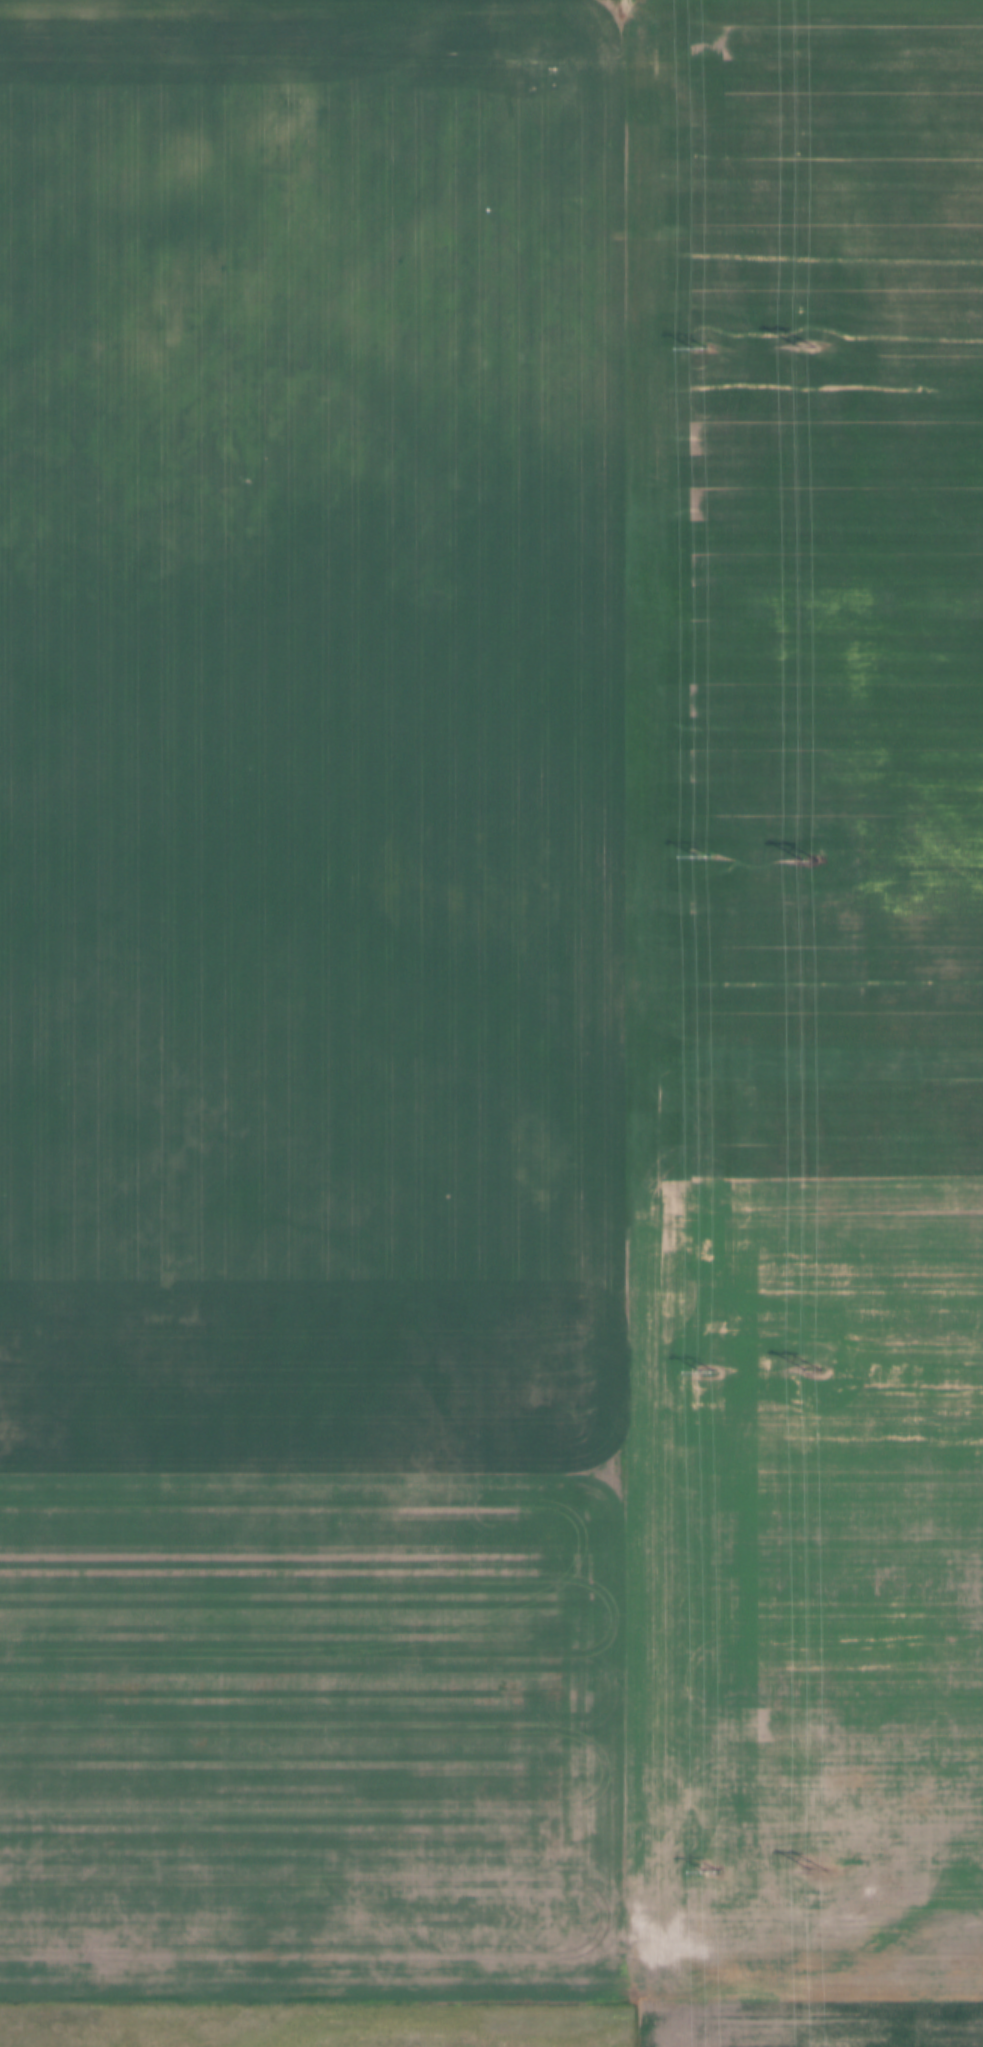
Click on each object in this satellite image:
power tower: (804, 347)
power tower: (697, 348)
power tower: (701, 857)
power tower: (807, 861)
power tower: (812, 1373)
power tower: (706, 1374)
power tower: (814, 1870)
power tower: (709, 1871)

